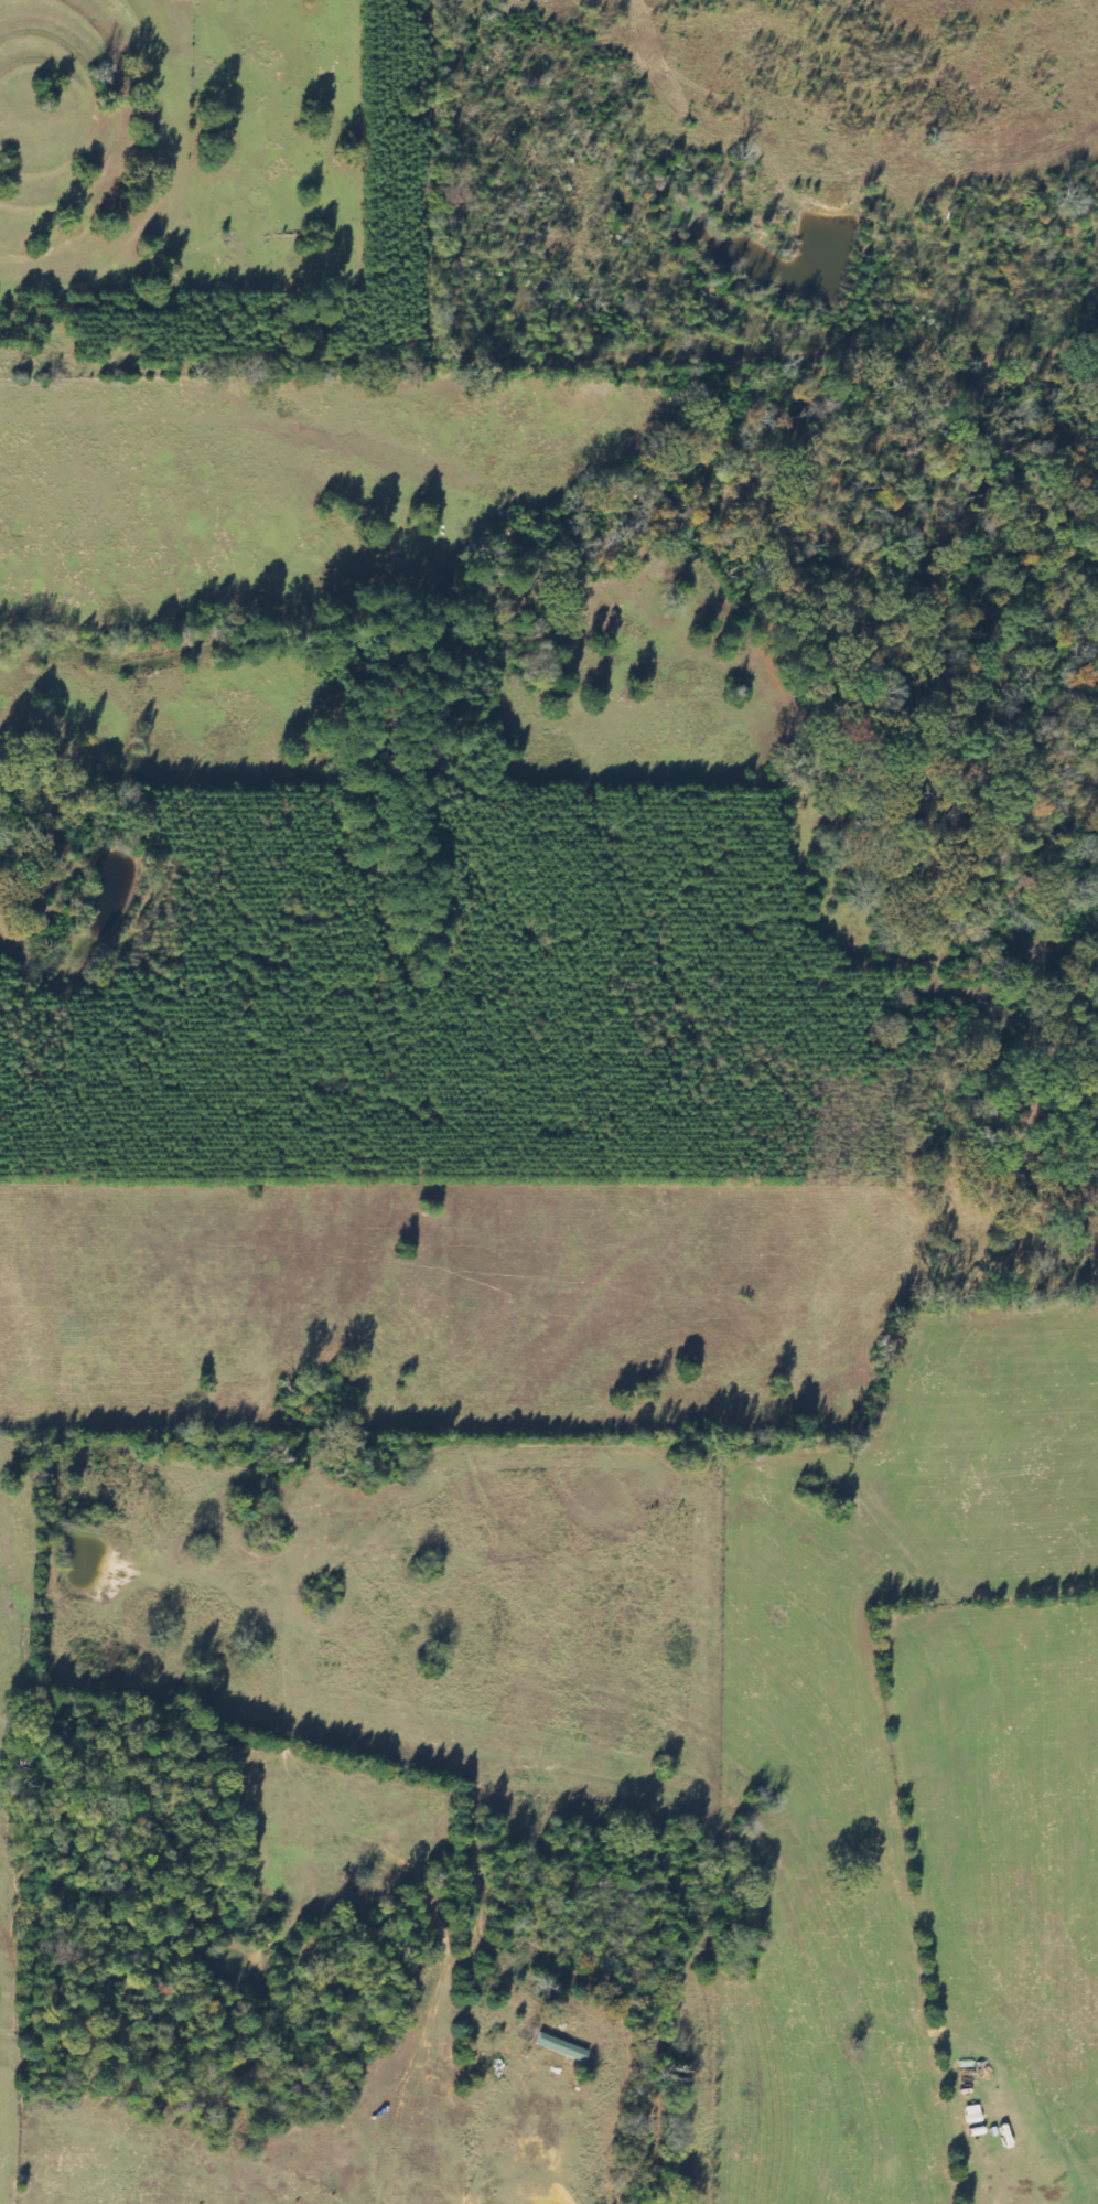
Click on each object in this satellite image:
building: (562, 2048)

